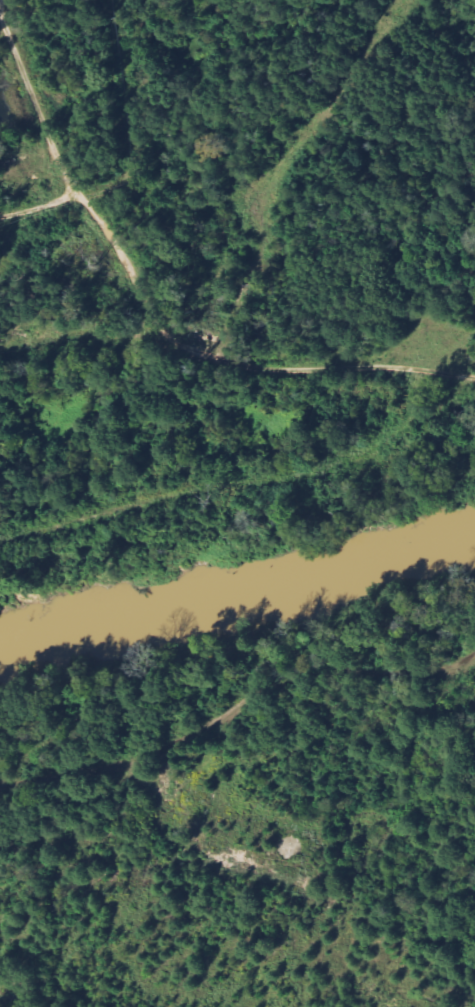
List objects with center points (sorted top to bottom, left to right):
road: (153, 315)
river: (237, 591)
road: (61, 780)

